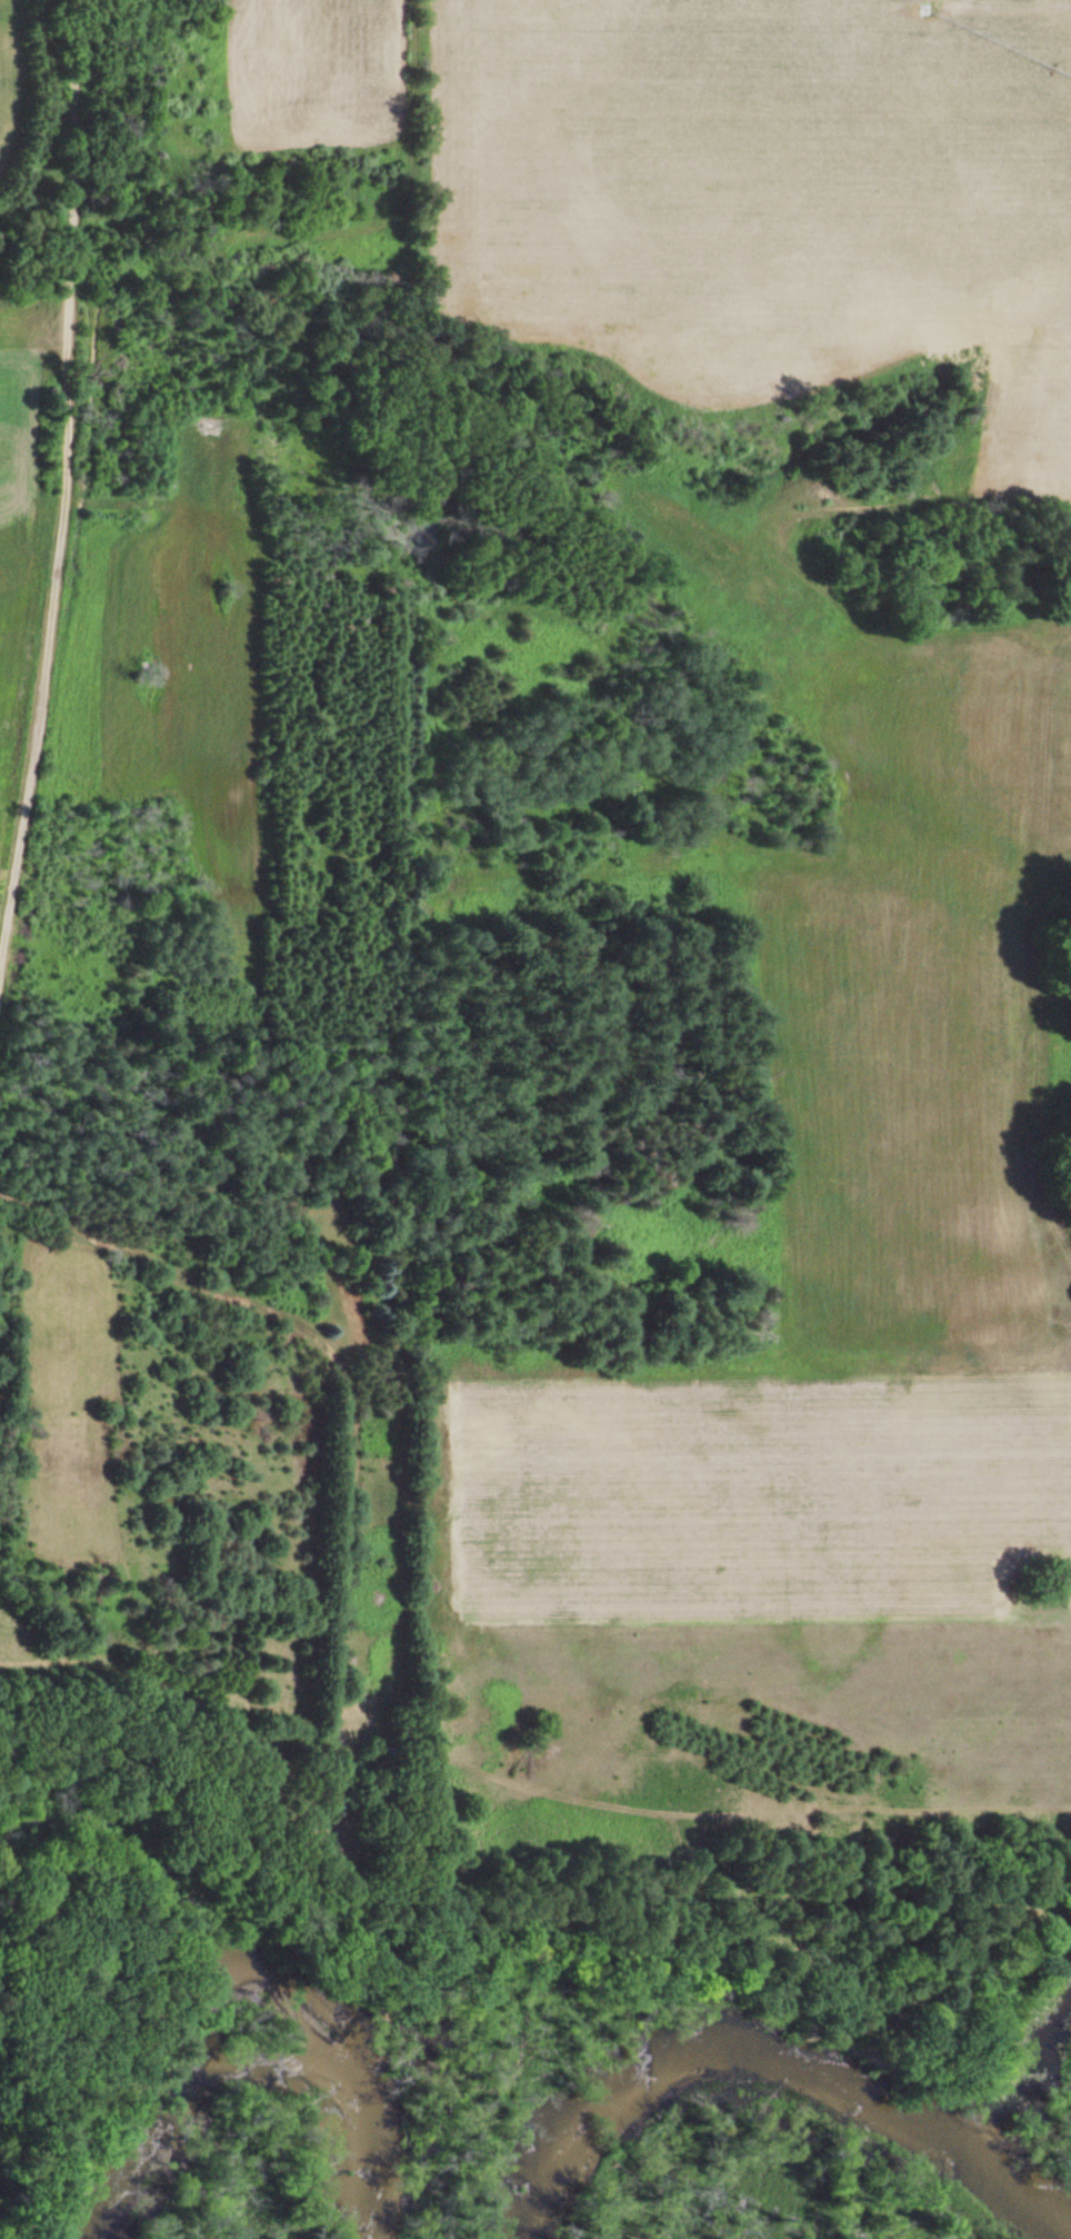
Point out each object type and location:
river: (239, 2032)
river: (759, 2057)

